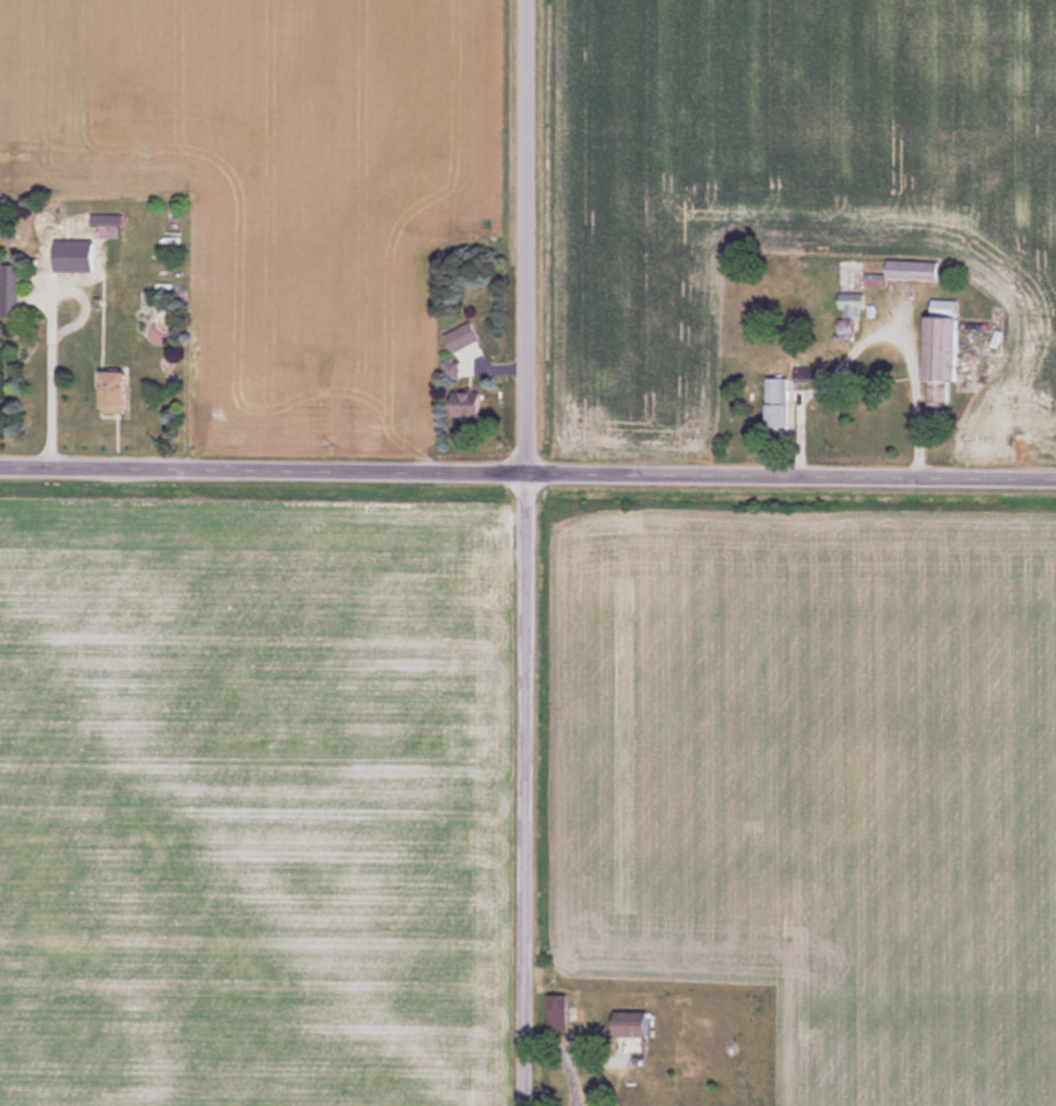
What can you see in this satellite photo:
building: (110, 219)
building: (915, 271)
building: (12, 289)
building: (852, 304)
road: (56, 332)
road: (870, 332)
building: (464, 337)
building: (946, 347)
building: (122, 391)
building: (780, 403)
building: (468, 404)
road: (527, 468)
road: (526, 552)
building: (558, 1013)
building: (634, 1025)
road: (563, 1058)

